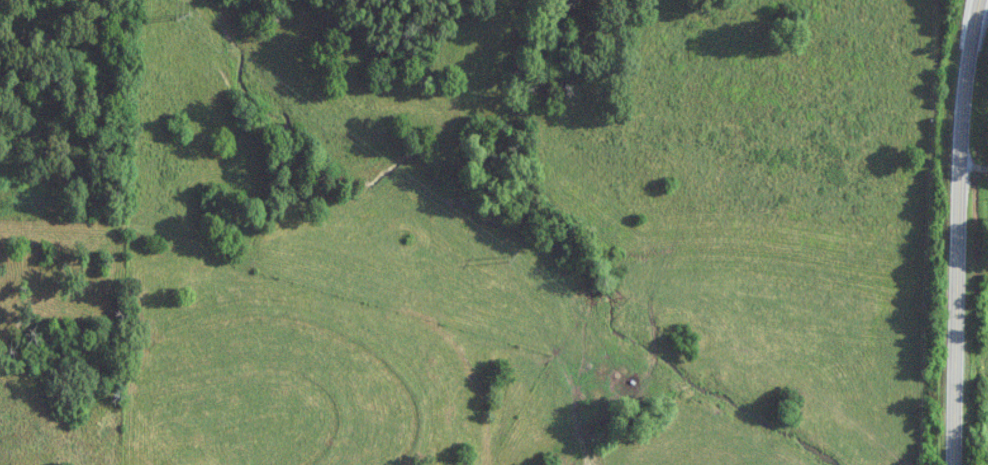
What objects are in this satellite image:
road: (963, 231)

